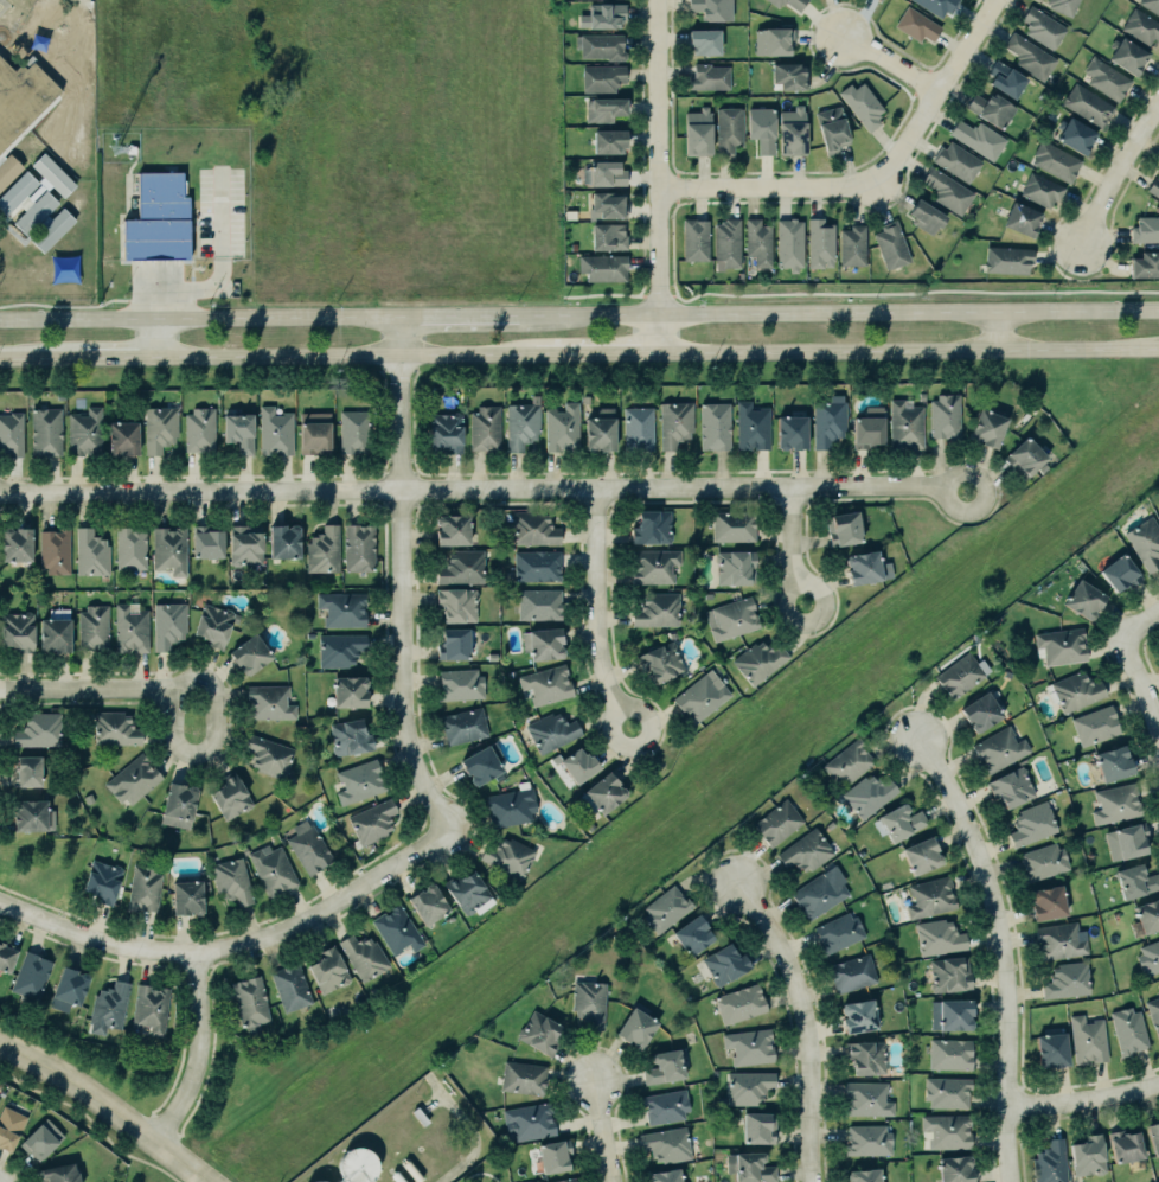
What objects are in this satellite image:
building: (878, 0)
building: (881, 0)
building: (787, 2)
building: (1151, 5)
building: (937, 6)
building: (1063, 6)
building: (711, 9)
building: (604, 14)
building: (915, 24)
building: (1040, 27)
building: (1141, 28)
building: (704, 41)
building: (773, 43)
building: (600, 46)
building: (1125, 55)
building: (1029, 56)
road: (891, 65)
building: (707, 76)
building: (788, 76)
building: (600, 77)
building: (1004, 78)
building: (1104, 78)
road: (939, 94)
building: (20, 96)
building: (862, 103)
building: (1087, 104)
building: (606, 109)
building: (991, 109)
park: (1157, 123)
building: (762, 129)
building: (832, 129)
building: (728, 130)
building: (792, 132)
building: (698, 133)
building: (1074, 134)
road: (1154, 134)
building: (979, 139)
building: (607, 141)
building: (955, 161)
building: (1056, 161)
building: (8, 170)
building: (603, 174)
road: (660, 175)
road: (1118, 175)
road: (769, 187)
building: (1040, 189)
building: (1154, 189)
building: (948, 191)
building: (608, 205)
building: (34, 212)
building: (926, 216)
building: (158, 219)
building: (1020, 219)
building: (1145, 229)
building: (606, 237)
building: (696, 239)
building: (756, 242)
building: (728, 244)
building: (789, 244)
building: (819, 244)
building: (852, 245)
building: (890, 245)
building: (1006, 260)
building: (1145, 264)
building: (603, 267)
road: (218, 271)
road: (155, 290)
road: (915, 292)
road: (673, 294)
road: (839, 314)
road: (460, 318)
road: (200, 320)
road: (999, 332)
road: (158, 339)
road: (910, 351)
road: (598, 353)
road: (346, 356)
road: (110, 358)
road: (31, 359)
building: (943, 413)
building: (825, 420)
building: (671, 421)
building: (903, 421)
building: (985, 421)
building: (712, 422)
building: (749, 422)
building: (520, 423)
building: (81, 424)
building: (156, 424)
building: (197, 426)
building: (350, 426)
building: (788, 426)
building: (864, 426)
building: (44, 427)
building: (273, 427)
building: (310, 427)
building: (559, 427)
building: (236, 428)
building: (484, 428)
building: (639, 428)
building: (442, 429)
building: (9, 430)
building: (120, 430)
building: (601, 430)
building: (1023, 451)
road: (482, 491)
building: (1158, 499)
building: (449, 525)
building: (532, 525)
building: (734, 526)
building: (652, 528)
building: (843, 529)
building: (278, 535)
building: (205, 538)
building: (1144, 543)
building: (17, 544)
building: (356, 544)
building: (165, 545)
building: (243, 545)
road: (790, 547)
building: (130, 548)
building: (321, 548)
building: (53, 550)
building: (89, 552)
building: (461, 564)
building: (534, 566)
building: (654, 566)
building: (734, 567)
building: (867, 568)
building: (1118, 574)
road: (403, 579)
building: (1084, 600)
building: (338, 602)
building: (537, 603)
building: (457, 605)
building: (655, 609)
road: (597, 612)
building: (731, 618)
building: (167, 624)
building: (129, 625)
building: (213, 625)
building: (92, 628)
building: (17, 631)
building: (53, 635)
building: (453, 644)
building: (544, 644)
building: (1061, 646)
building: (341, 650)
building: (250, 654)
building: (756, 657)
building: (661, 662)
road: (1134, 669)
building: (961, 675)
building: (457, 682)
building: (548, 684)
building: (347, 685)
building: (1074, 688)
road: (85, 689)
building: (702, 697)
building: (265, 698)
building: (980, 713)
building: (462, 726)
building: (1096, 726)
building: (113, 727)
building: (38, 730)
building: (550, 731)
building: (348, 733)
road: (222, 739)
building: (998, 749)
building: (265, 755)
building: (575, 759)
building: (846, 762)
building: (1113, 763)
building: (24, 765)
building: (479, 766)
building: (360, 778)
building: (134, 780)
building: (602, 786)
building: (1011, 787)
building: (226, 791)
building: (866, 794)
building: (1115, 803)
building: (177, 805)
building: (27, 807)
building: (511, 807)
building: (371, 817)
building: (899, 822)
building: (777, 823)
building: (1030, 823)
building: (1126, 842)
building: (306, 843)
building: (805, 851)
building: (921, 856)
building: (507, 857)
building: (1042, 862)
building: (270, 864)
building: (97, 877)
building: (230, 878)
building: (1134, 881)
building: (141, 883)
building: (467, 887)
building: (184, 892)
building: (815, 894)
building: (930, 897)
building: (428, 903)
building: (1046, 903)
building: (664, 909)
building: (1147, 915)
building: (393, 931)
building: (837, 932)
building: (691, 935)
building: (939, 937)
building: (1057, 940)
road: (232, 943)
building: (5, 950)
road: (1001, 951)
building: (361, 953)
building: (1148, 958)
building: (723, 965)
building: (27, 970)
building: (328, 971)
building: (851, 973)
building: (949, 975)
building: (1065, 979)
building: (65, 983)
building: (289, 984)
building: (738, 1002)
building: (105, 1003)
building: (249, 1003)
building: (590, 1003)
building: (151, 1008)
building: (854, 1009)
building: (1154, 1012)
building: (954, 1015)
building: (636, 1026)
road: (803, 1027)
building: (1129, 1030)
building: (540, 1033)
building: (1088, 1040)
building: (747, 1043)
road: (196, 1052)
building: (1050, 1052)
building: (950, 1054)
building: (865, 1058)
building: (662, 1068)
building: (523, 1078)
building: (748, 1087)
building: (946, 1092)
building: (865, 1094)
road: (1084, 1099)
road: (431, 1105)
building: (664, 1105)
road: (108, 1107)
road: (89, 1120)
building: (9, 1127)
building: (757, 1127)
road: (467, 1129)
road: (603, 1130)
building: (537, 1131)
building: (947, 1131)
building: (1154, 1137)
building: (40, 1139)
building: (867, 1139)
building: (665, 1144)
building: (1122, 1146)
building: (1087, 1156)
building: (1048, 1159)
building: (358, 1165)
park: (146, 1168)
park: (484, 1168)
building: (749, 1168)
building: (955, 1169)
building: (58, 1174)
road: (480, 1175)
building: (664, 1176)
building: (863, 1176)
building: (561, 1180)
building: (328, 1181)

